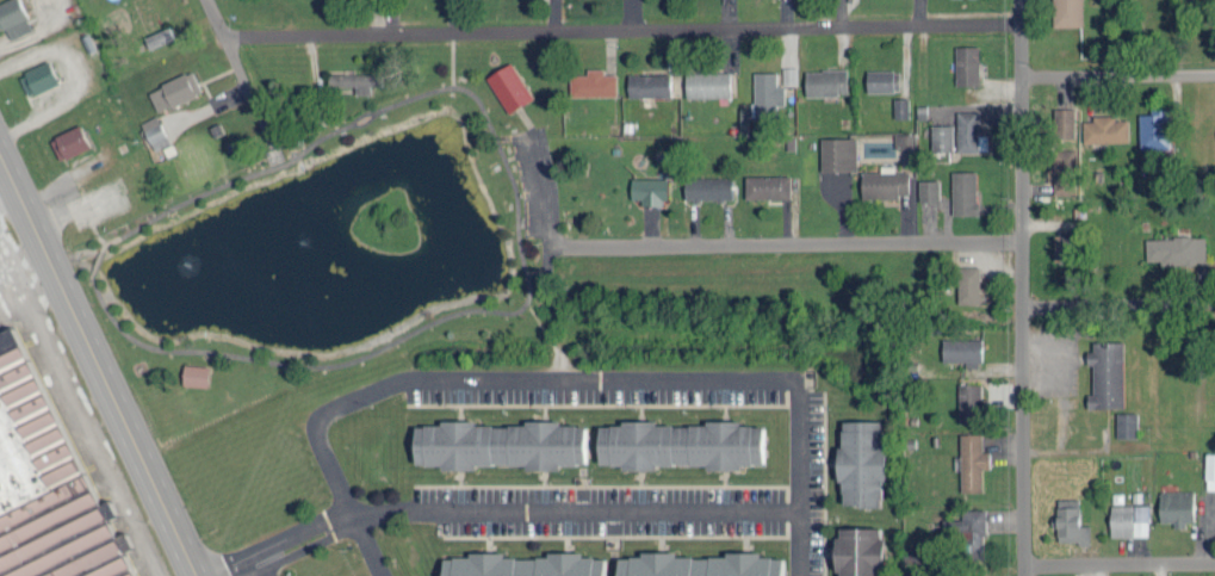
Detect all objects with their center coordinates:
building: (1067, 12)
road: (216, 16)
building: (13, 17)
road: (621, 27)
building: (159, 36)
road: (235, 61)
building: (967, 63)
road: (1117, 73)
building: (789, 74)
building: (38, 76)
building: (355, 79)
building: (882, 79)
building: (826, 80)
building: (593, 81)
building: (707, 82)
building: (649, 83)
building: (509, 86)
building: (174, 89)
building: (761, 99)
building: (900, 106)
building: (1064, 122)
building: (1105, 128)
building: (1155, 128)
building: (155, 131)
building: (971, 131)
building: (942, 136)
building: (904, 140)
building: (69, 141)
building: (838, 153)
building: (1065, 169)
building: (885, 181)
building: (767, 185)
building: (708, 186)
building: (929, 188)
building: (649, 190)
building: (963, 191)
road: (794, 243)
building: (1064, 244)
building: (1176, 248)
building: (968, 283)
road: (1021, 287)
road: (1117, 304)
building: (962, 349)
road: (101, 358)
building: (1106, 372)
building: (196, 373)
road: (566, 379)
building: (969, 402)
building: (1127, 423)
building: (500, 442)
building: (680, 442)
building: (972, 460)
building: (861, 462)
building: (1210, 464)
building: (1177, 506)
road: (506, 508)
building: (1129, 519)
building: (1070, 521)
building: (969, 531)
building: (72, 544)
building: (858, 550)
road: (1118, 562)
building: (523, 564)
building: (700, 564)

